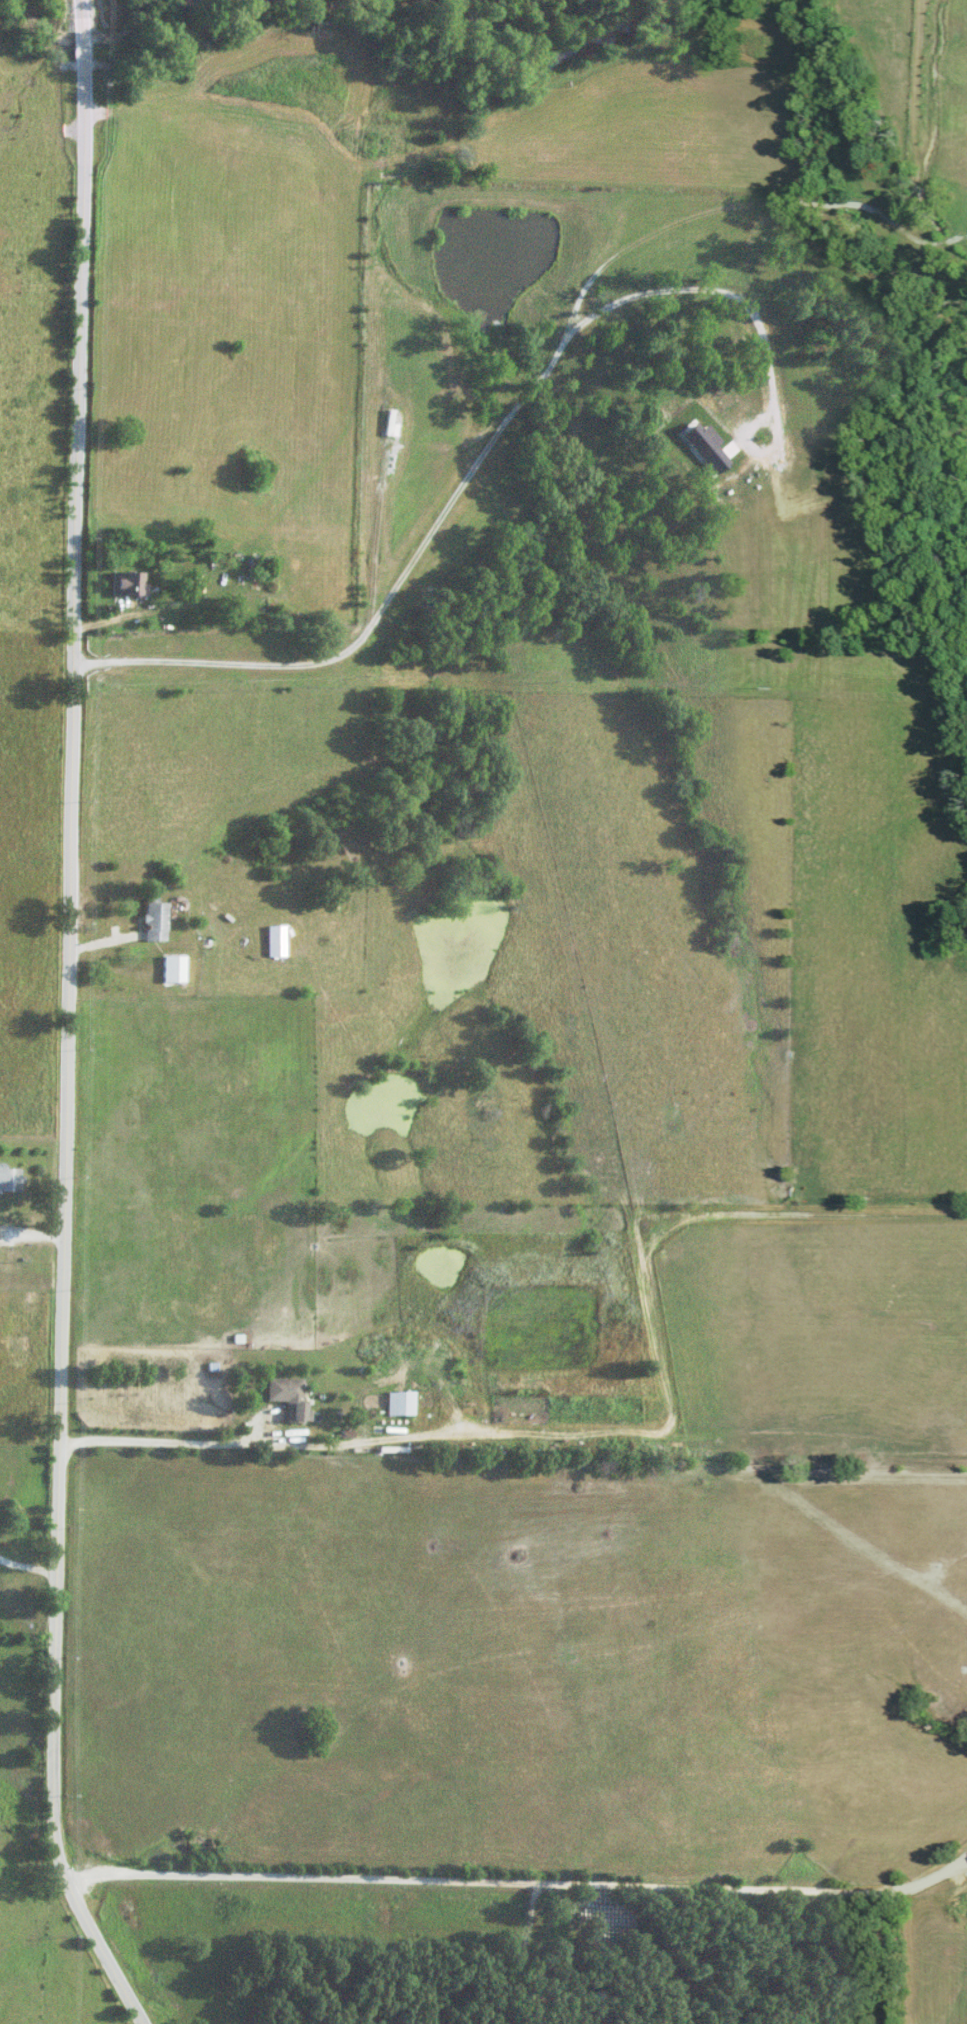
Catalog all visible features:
road: (736, 203)
road: (964, 233)
road: (958, 234)
road: (756, 313)
building: (382, 422)
building: (255, 572)
building: (121, 582)
road: (380, 604)
building: (148, 919)
building: (269, 940)
building: (169, 968)
road: (71, 1023)
building: (9, 1178)
road: (33, 1234)
building: (285, 1395)
building: (399, 1403)
road: (160, 1439)
road: (29, 1563)
road: (519, 1892)

